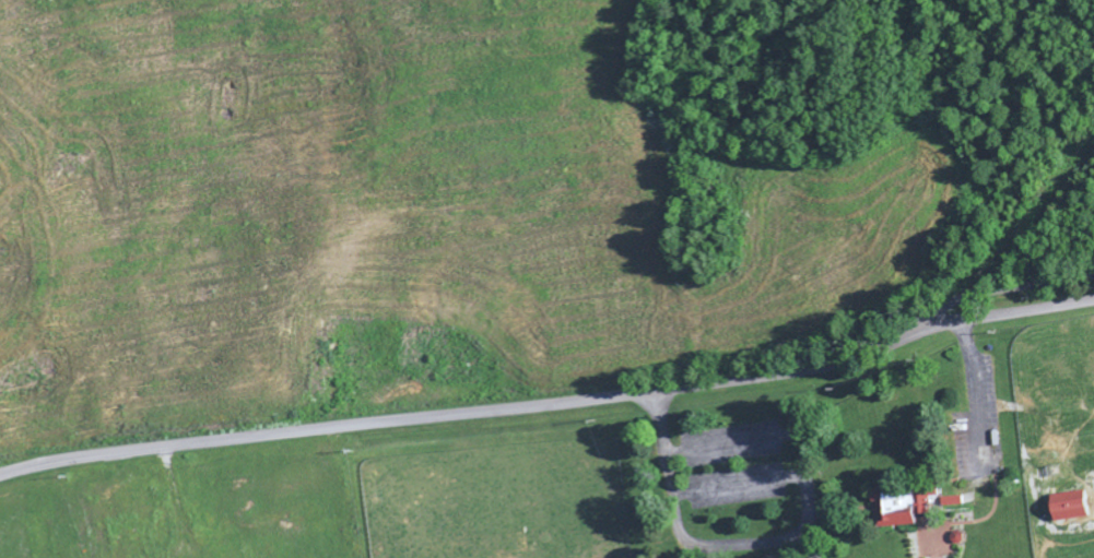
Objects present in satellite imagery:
road: (1007, 293)
road: (977, 390)
road: (551, 405)
building: (952, 500)
road: (176, 504)
building: (902, 506)
building: (1068, 507)
road: (752, 547)

